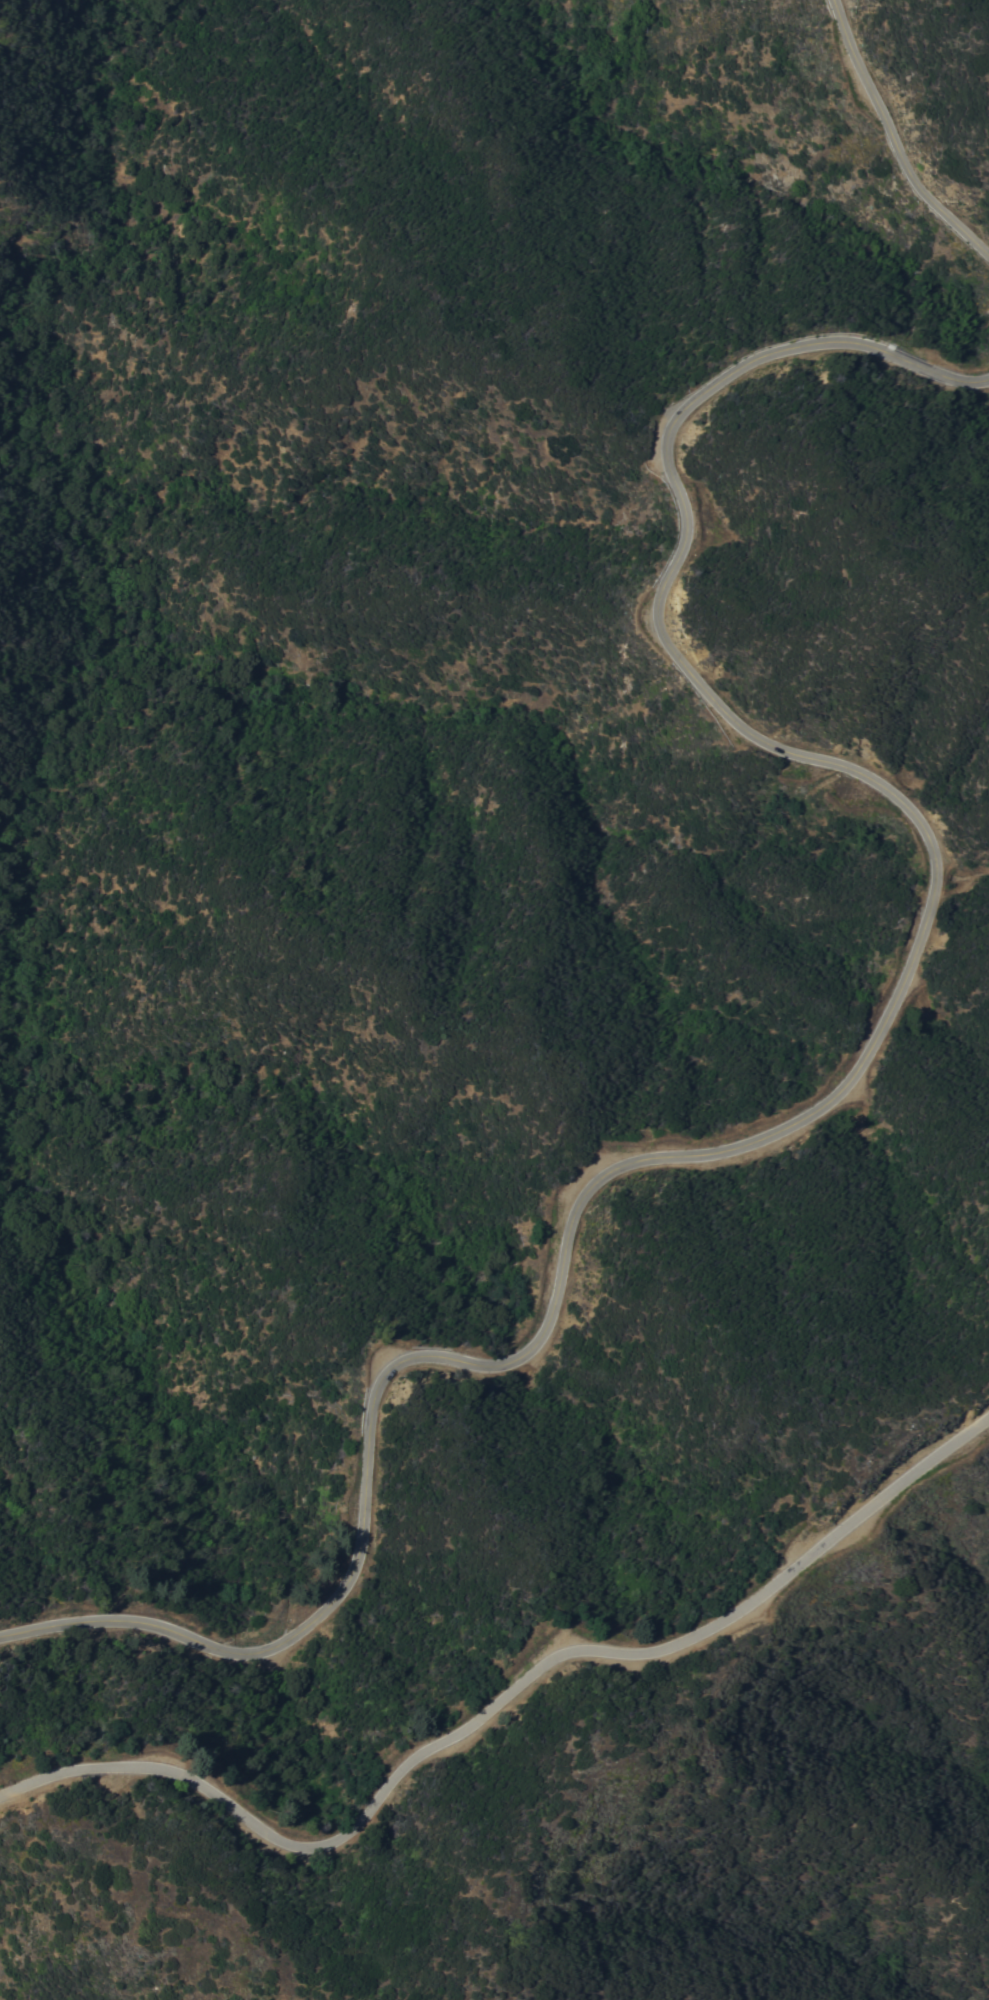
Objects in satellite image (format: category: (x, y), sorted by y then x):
road: (891, 139)
road: (832, 1087)
road: (502, 1703)

